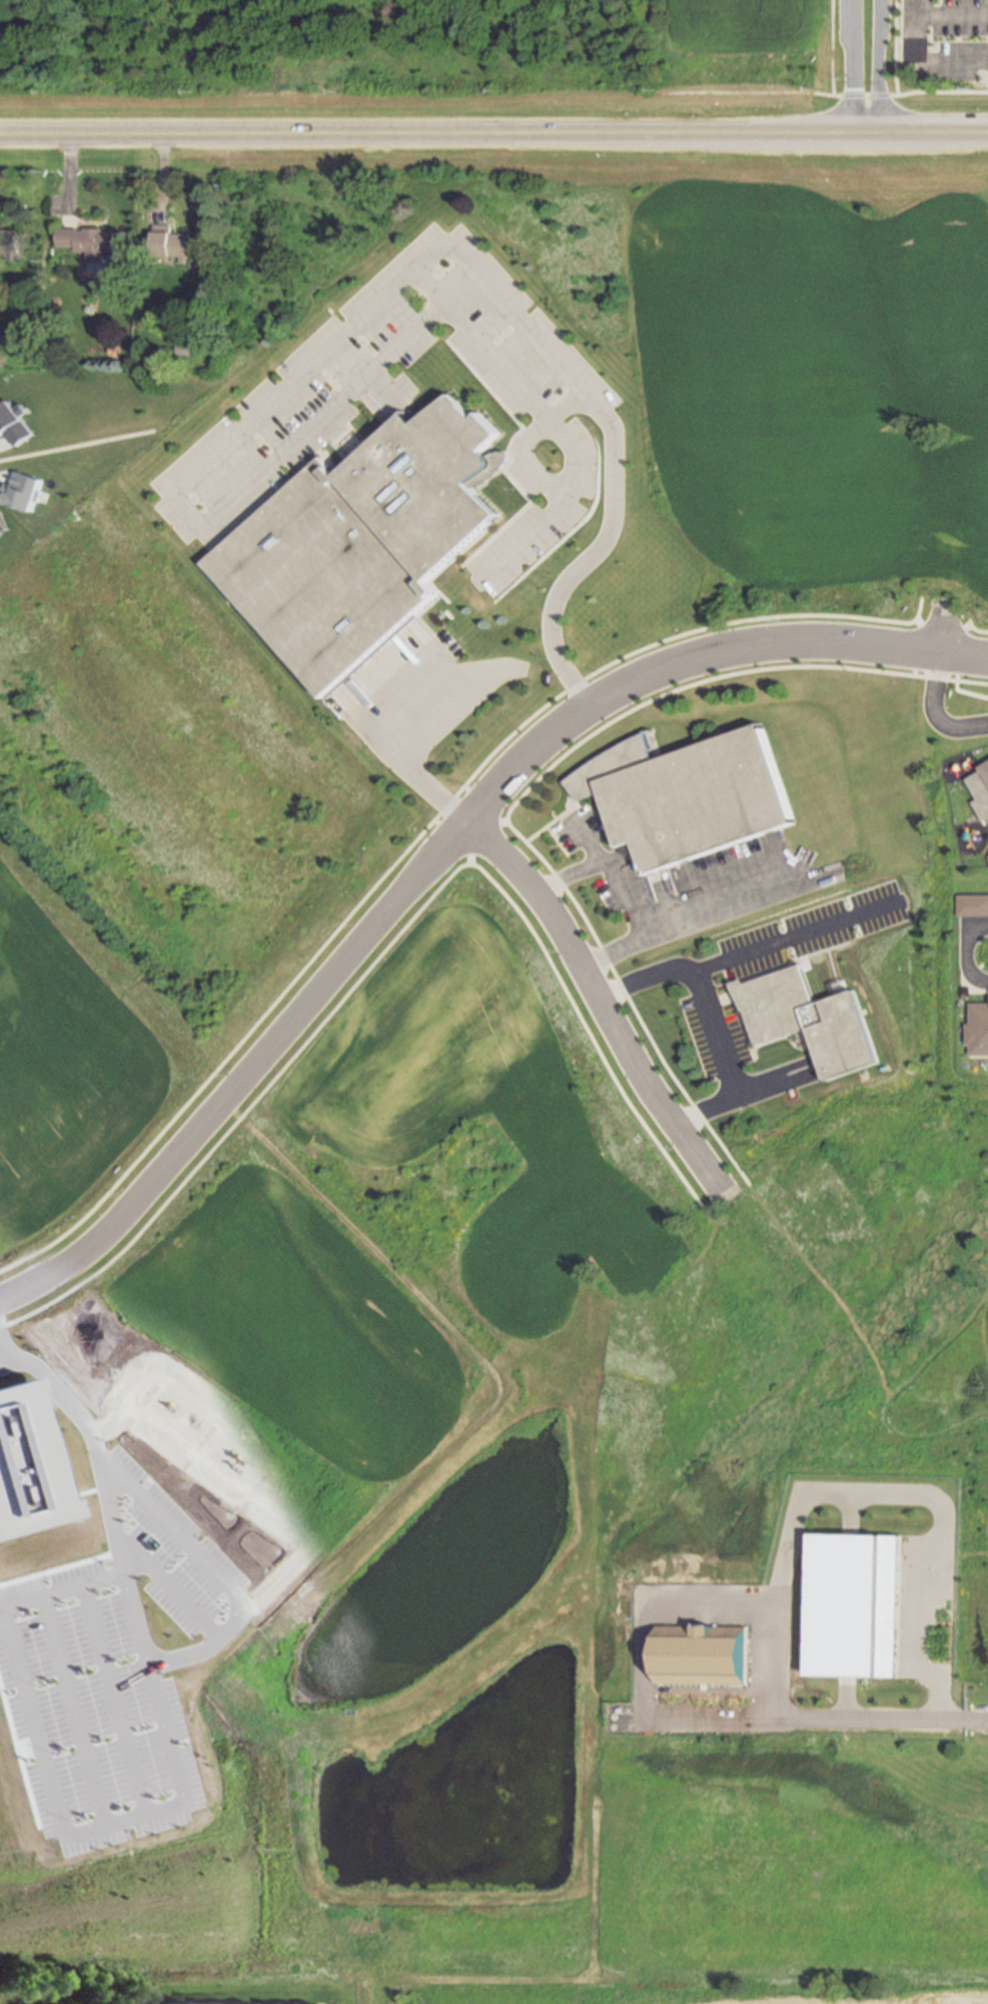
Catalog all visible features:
road: (955, 18)
road: (921, 30)
parking lot: (944, 39)
road: (987, 46)
road: (830, 48)
road: (894, 48)
road: (954, 61)
road: (851, 66)
road: (873, 66)
road: (823, 95)
road: (493, 133)
building: (84, 241)
building: (168, 242)
building: (7, 246)
road: (429, 289)
building: (184, 347)
road: (361, 378)
parking lot: (404, 400)
building: (12, 425)
road: (74, 444)
building: (19, 492)
road: (211, 514)
building: (2, 528)
building: (358, 543)
road: (577, 569)
road: (916, 608)
road: (943, 631)
road: (716, 679)
road: (934, 711)
parking lot: (950, 714)
road: (392, 751)
building: (980, 788)
building: (686, 793)
road: (477, 805)
road: (435, 814)
road: (449, 837)
road: (478, 837)
road: (585, 839)
road: (436, 854)
road: (566, 874)
parking lot: (684, 883)
building: (972, 904)
road: (676, 913)
road: (618, 949)
parking lot: (973, 950)
road: (966, 952)
road: (743, 955)
road: (654, 974)
road: (628, 1002)
road: (604, 1007)
parking lot: (724, 1017)
building: (807, 1017)
road: (714, 1023)
building: (977, 1027)
road: (589, 1038)
road: (735, 1084)
road: (739, 1093)
road: (249, 1105)
road: (9, 1362)
road: (95, 1429)
building: (29, 1462)
road: (846, 1490)
road: (220, 1570)
road: (175, 1587)
building: (859, 1598)
road: (941, 1633)
road: (782, 1651)
building: (704, 1656)
road: (116, 1698)
road: (76, 1709)
road: (722, 1717)
road: (884, 1719)
road: (68, 1833)

